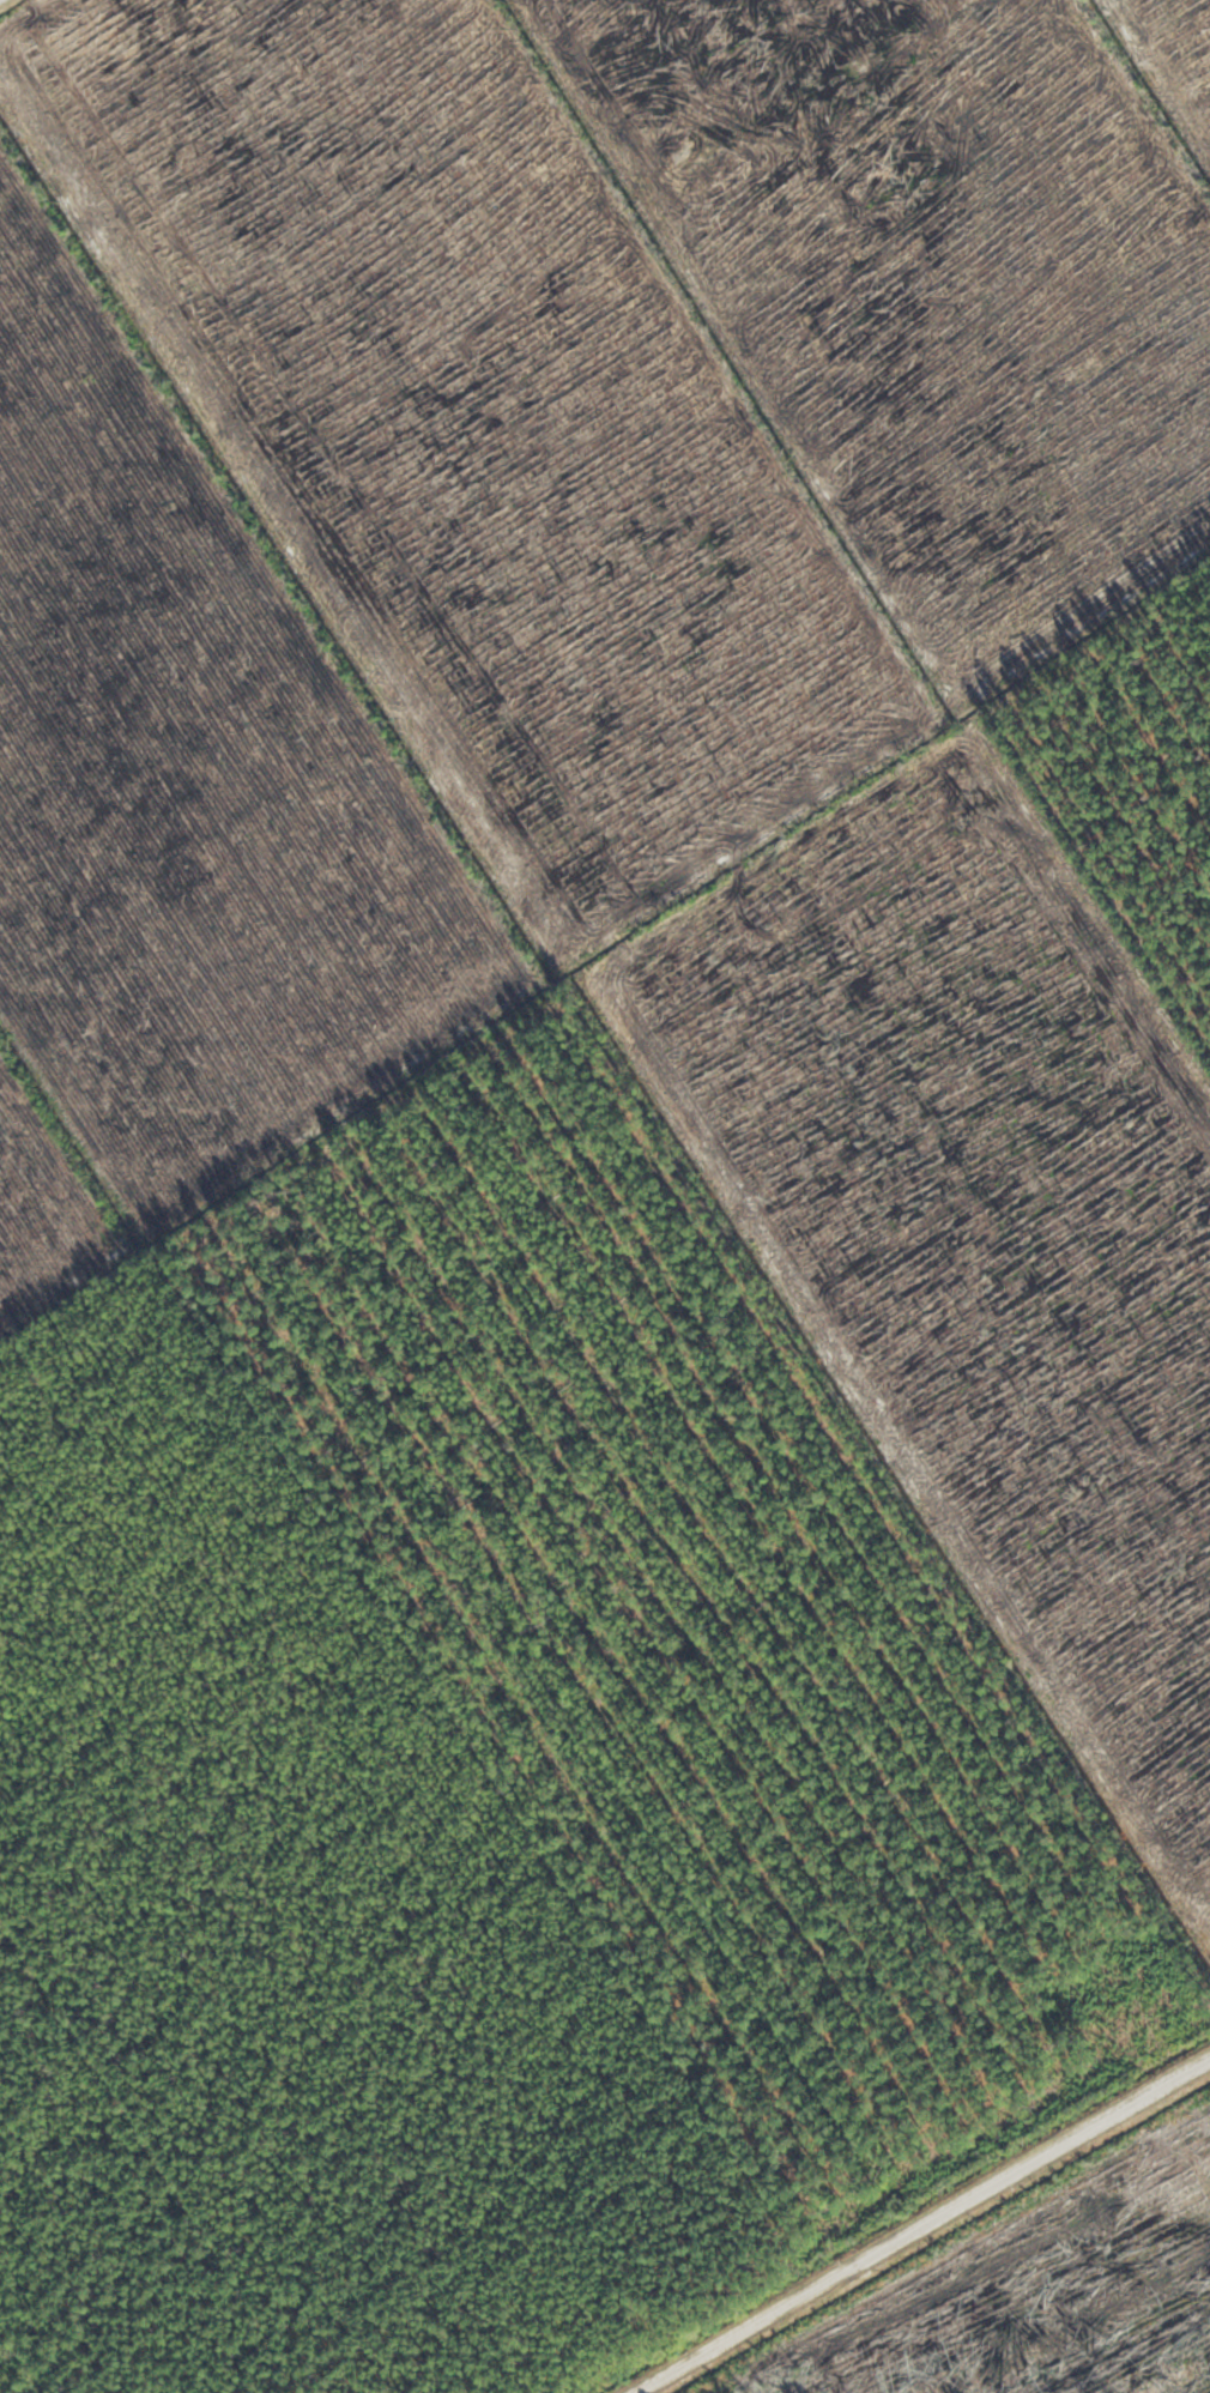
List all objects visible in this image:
road: (931, 2231)

